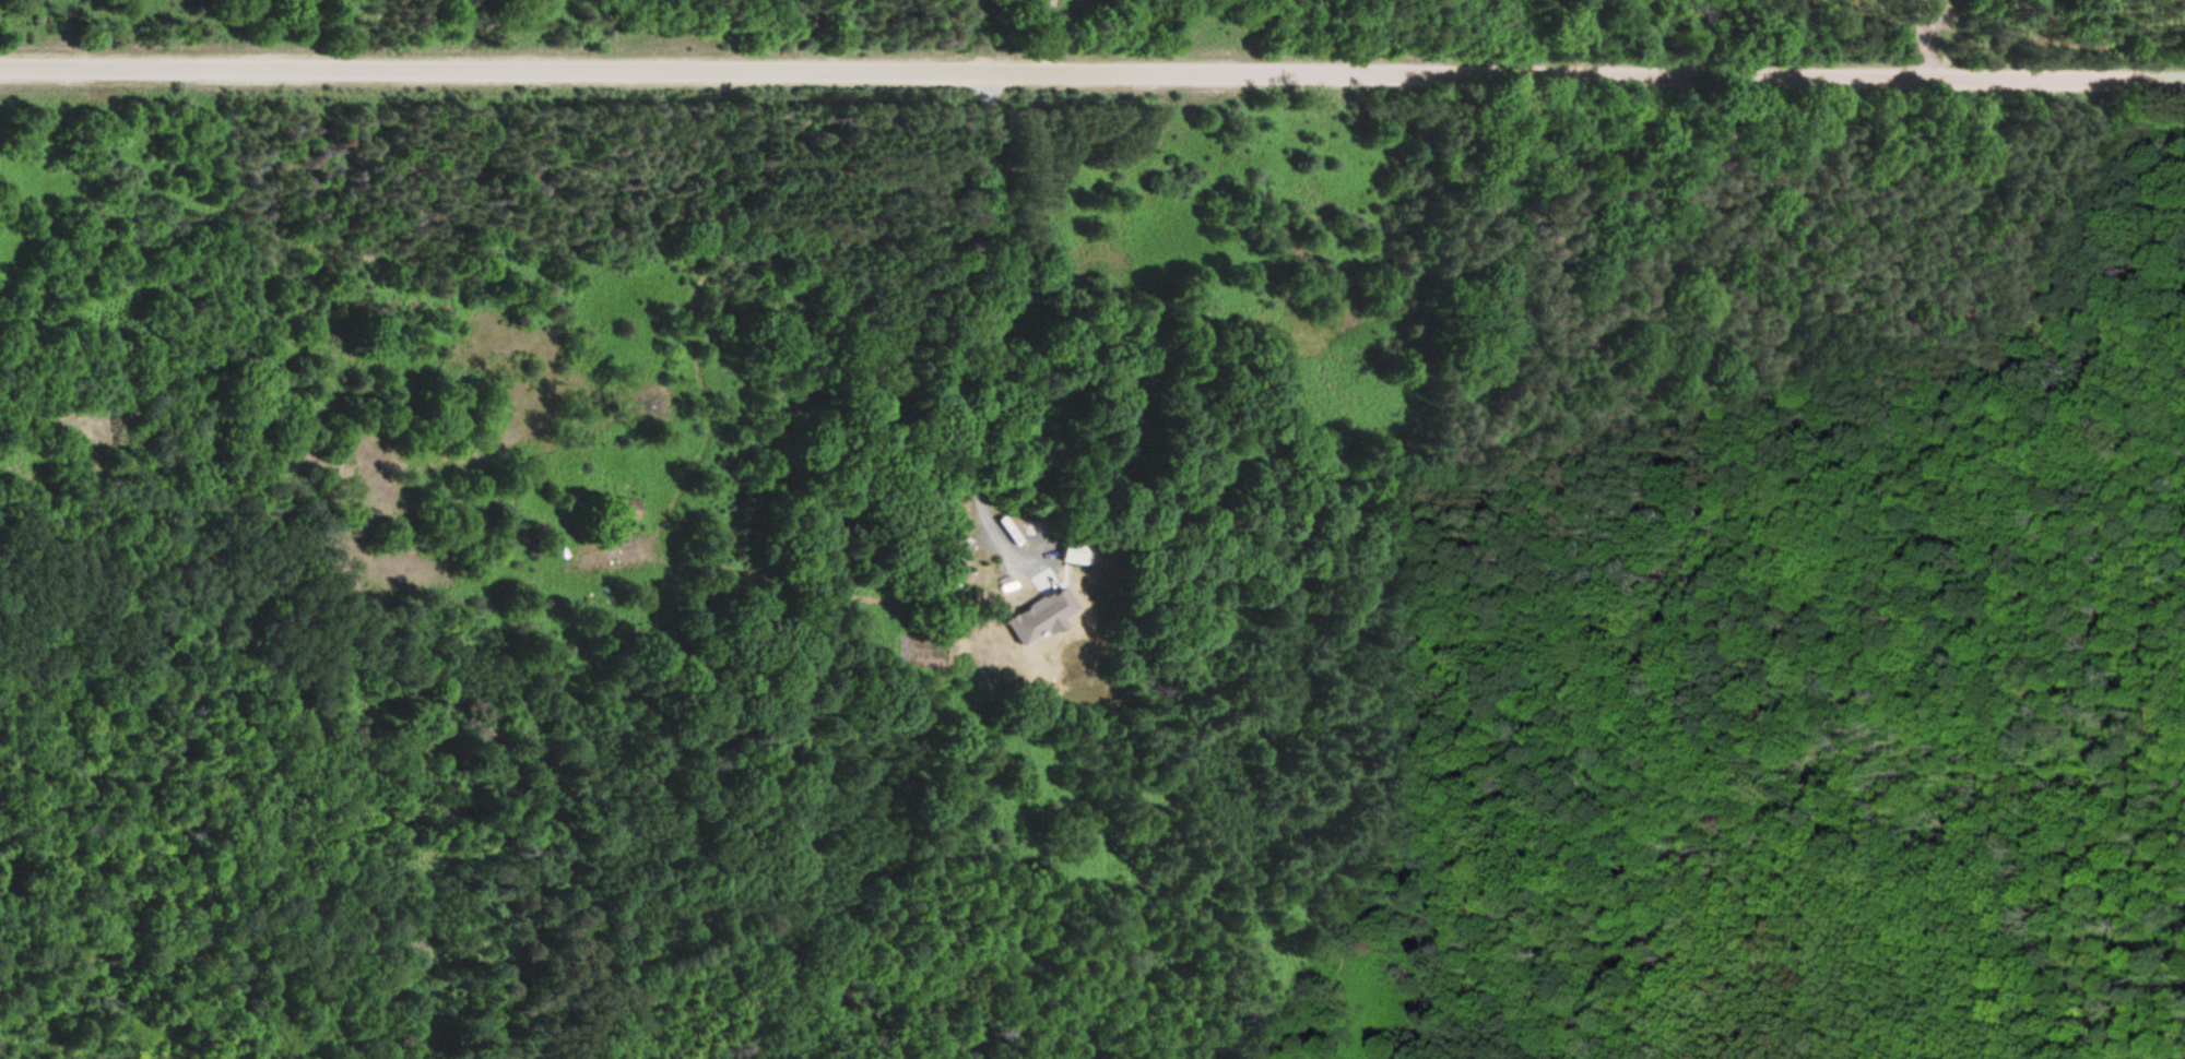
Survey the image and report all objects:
road: (1092, 71)
building: (1028, 626)

